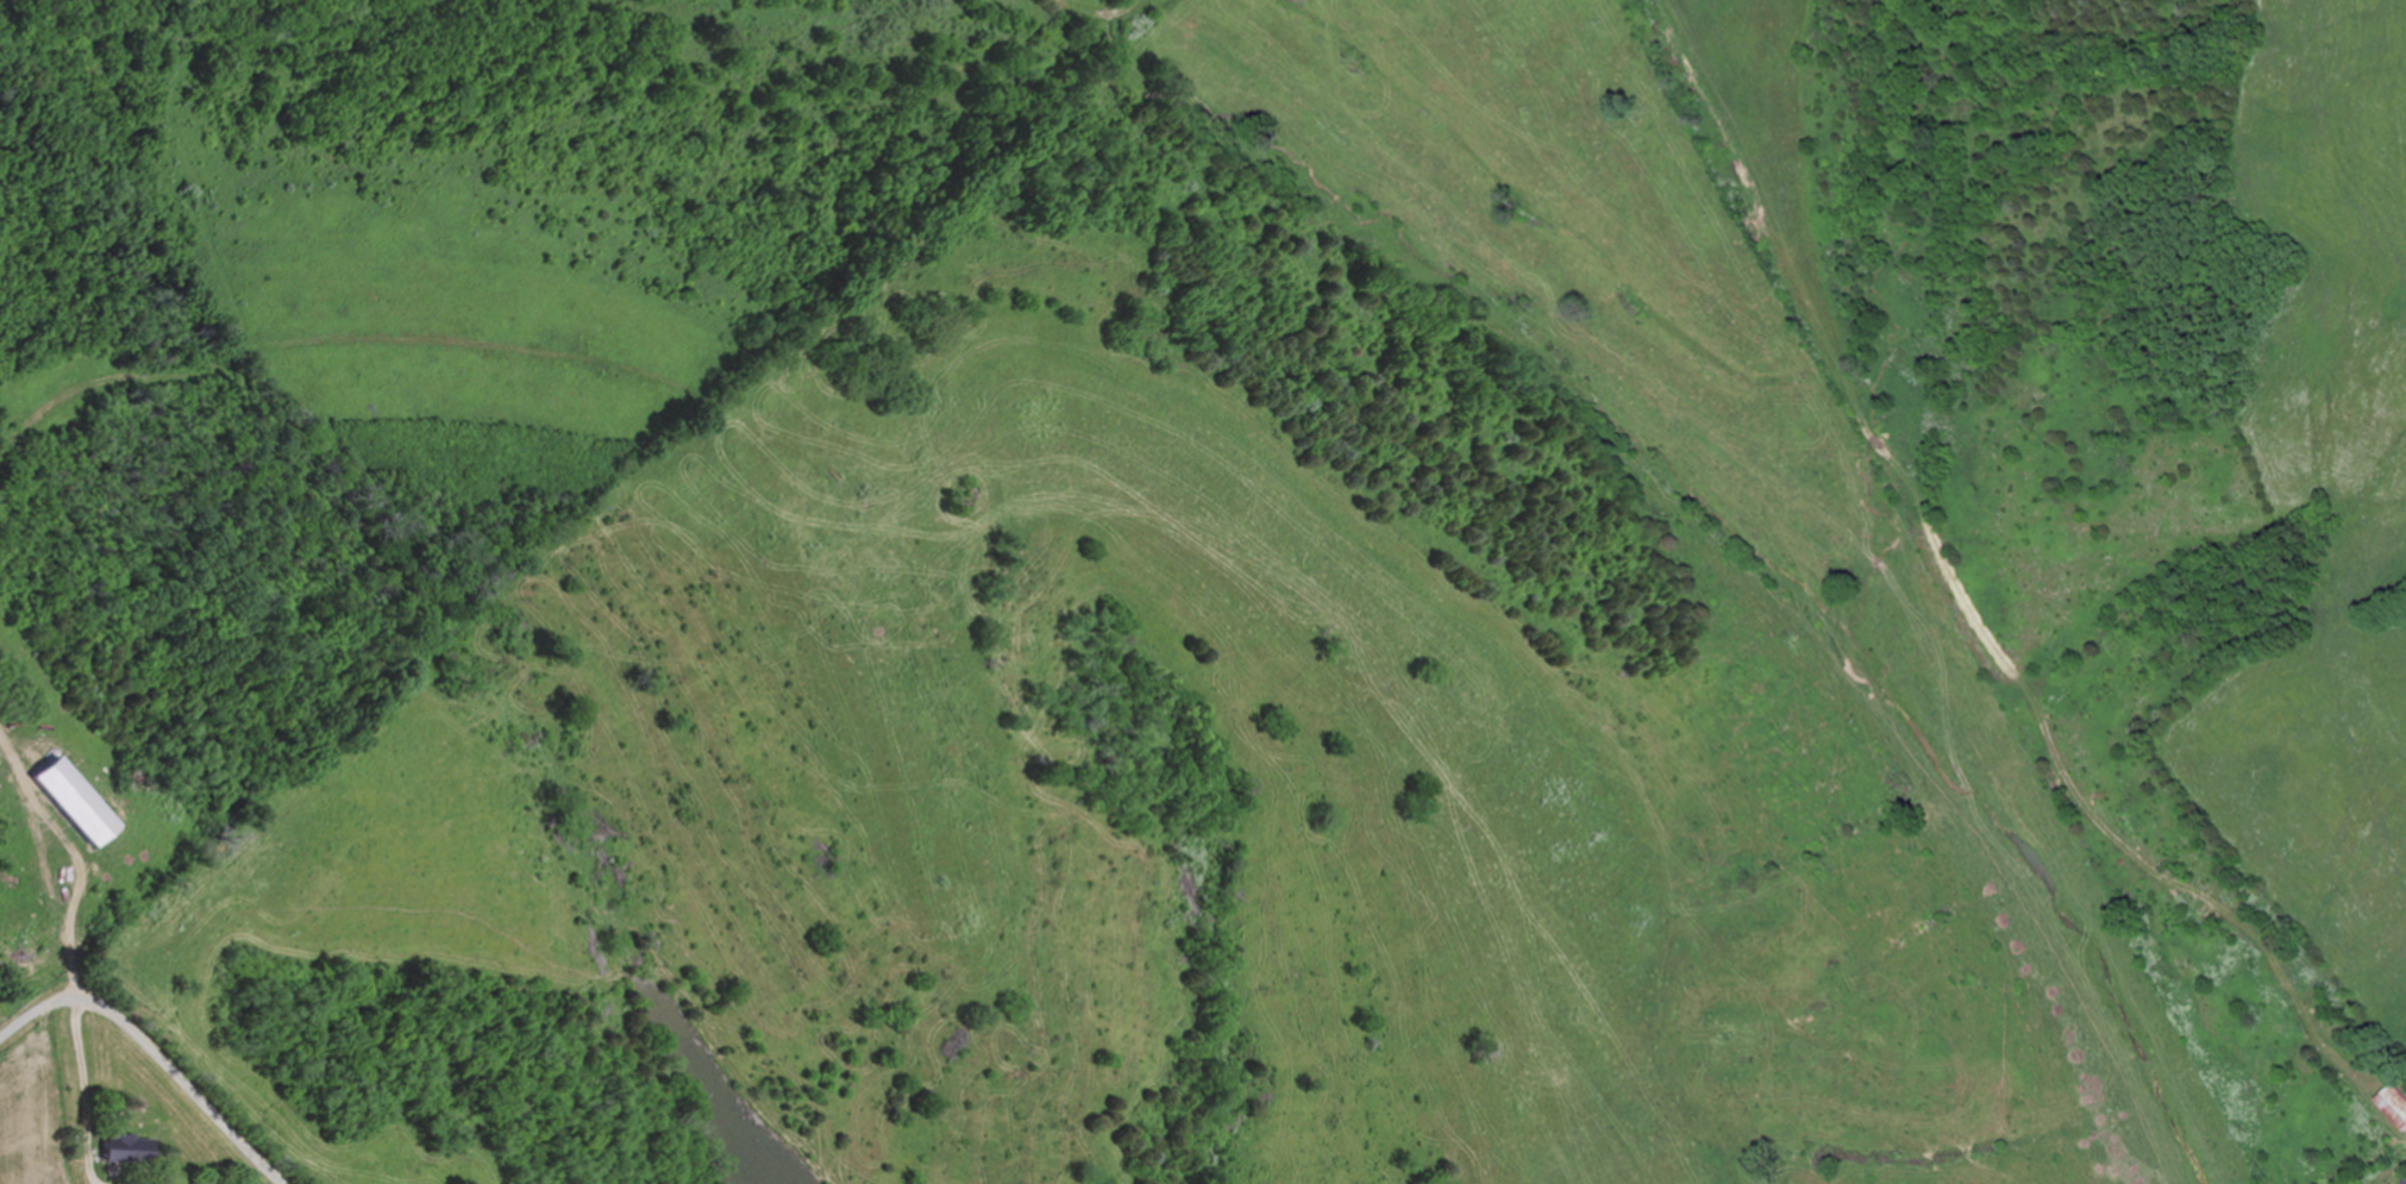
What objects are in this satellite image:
road: (1080, 100)
road: (1929, 606)
building: (69, 802)
road: (151, 1053)
building: (2393, 1104)
building: (121, 1149)
building: (2404, 1179)

